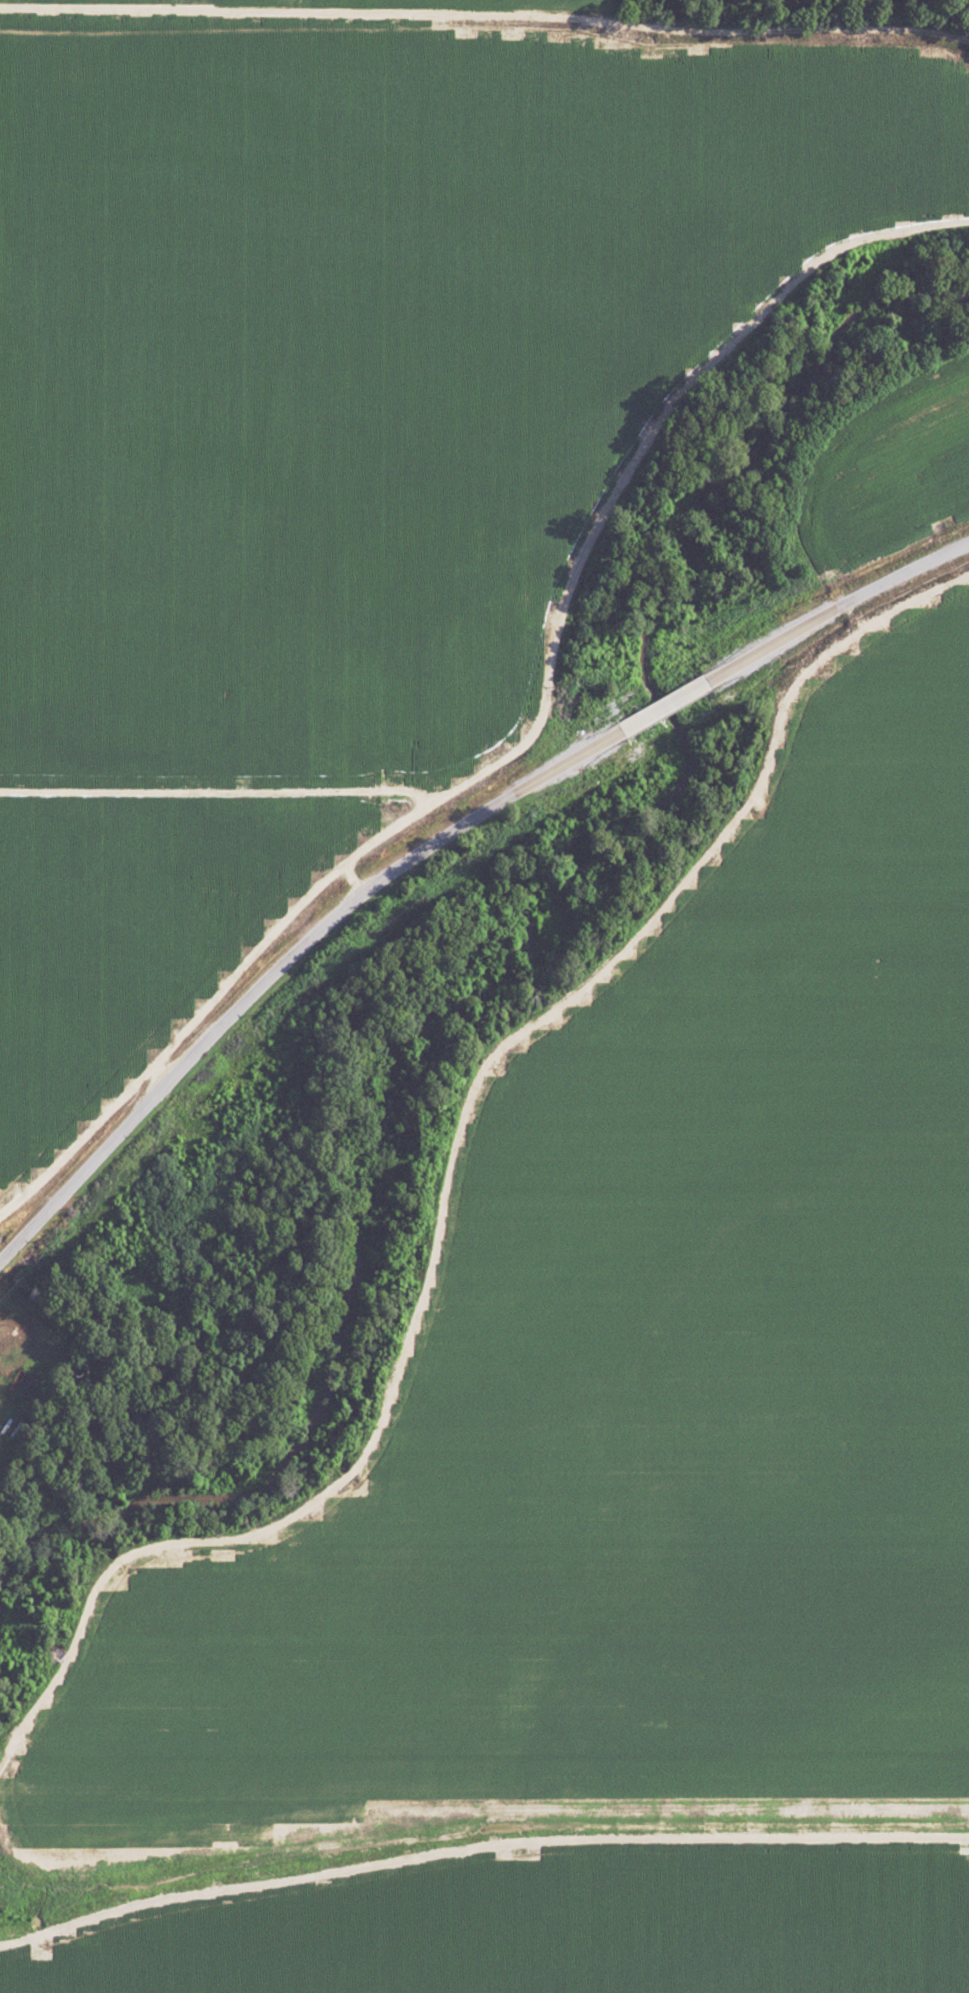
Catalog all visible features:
road: (283, 345)
road: (436, 840)
building: (212, 901)

